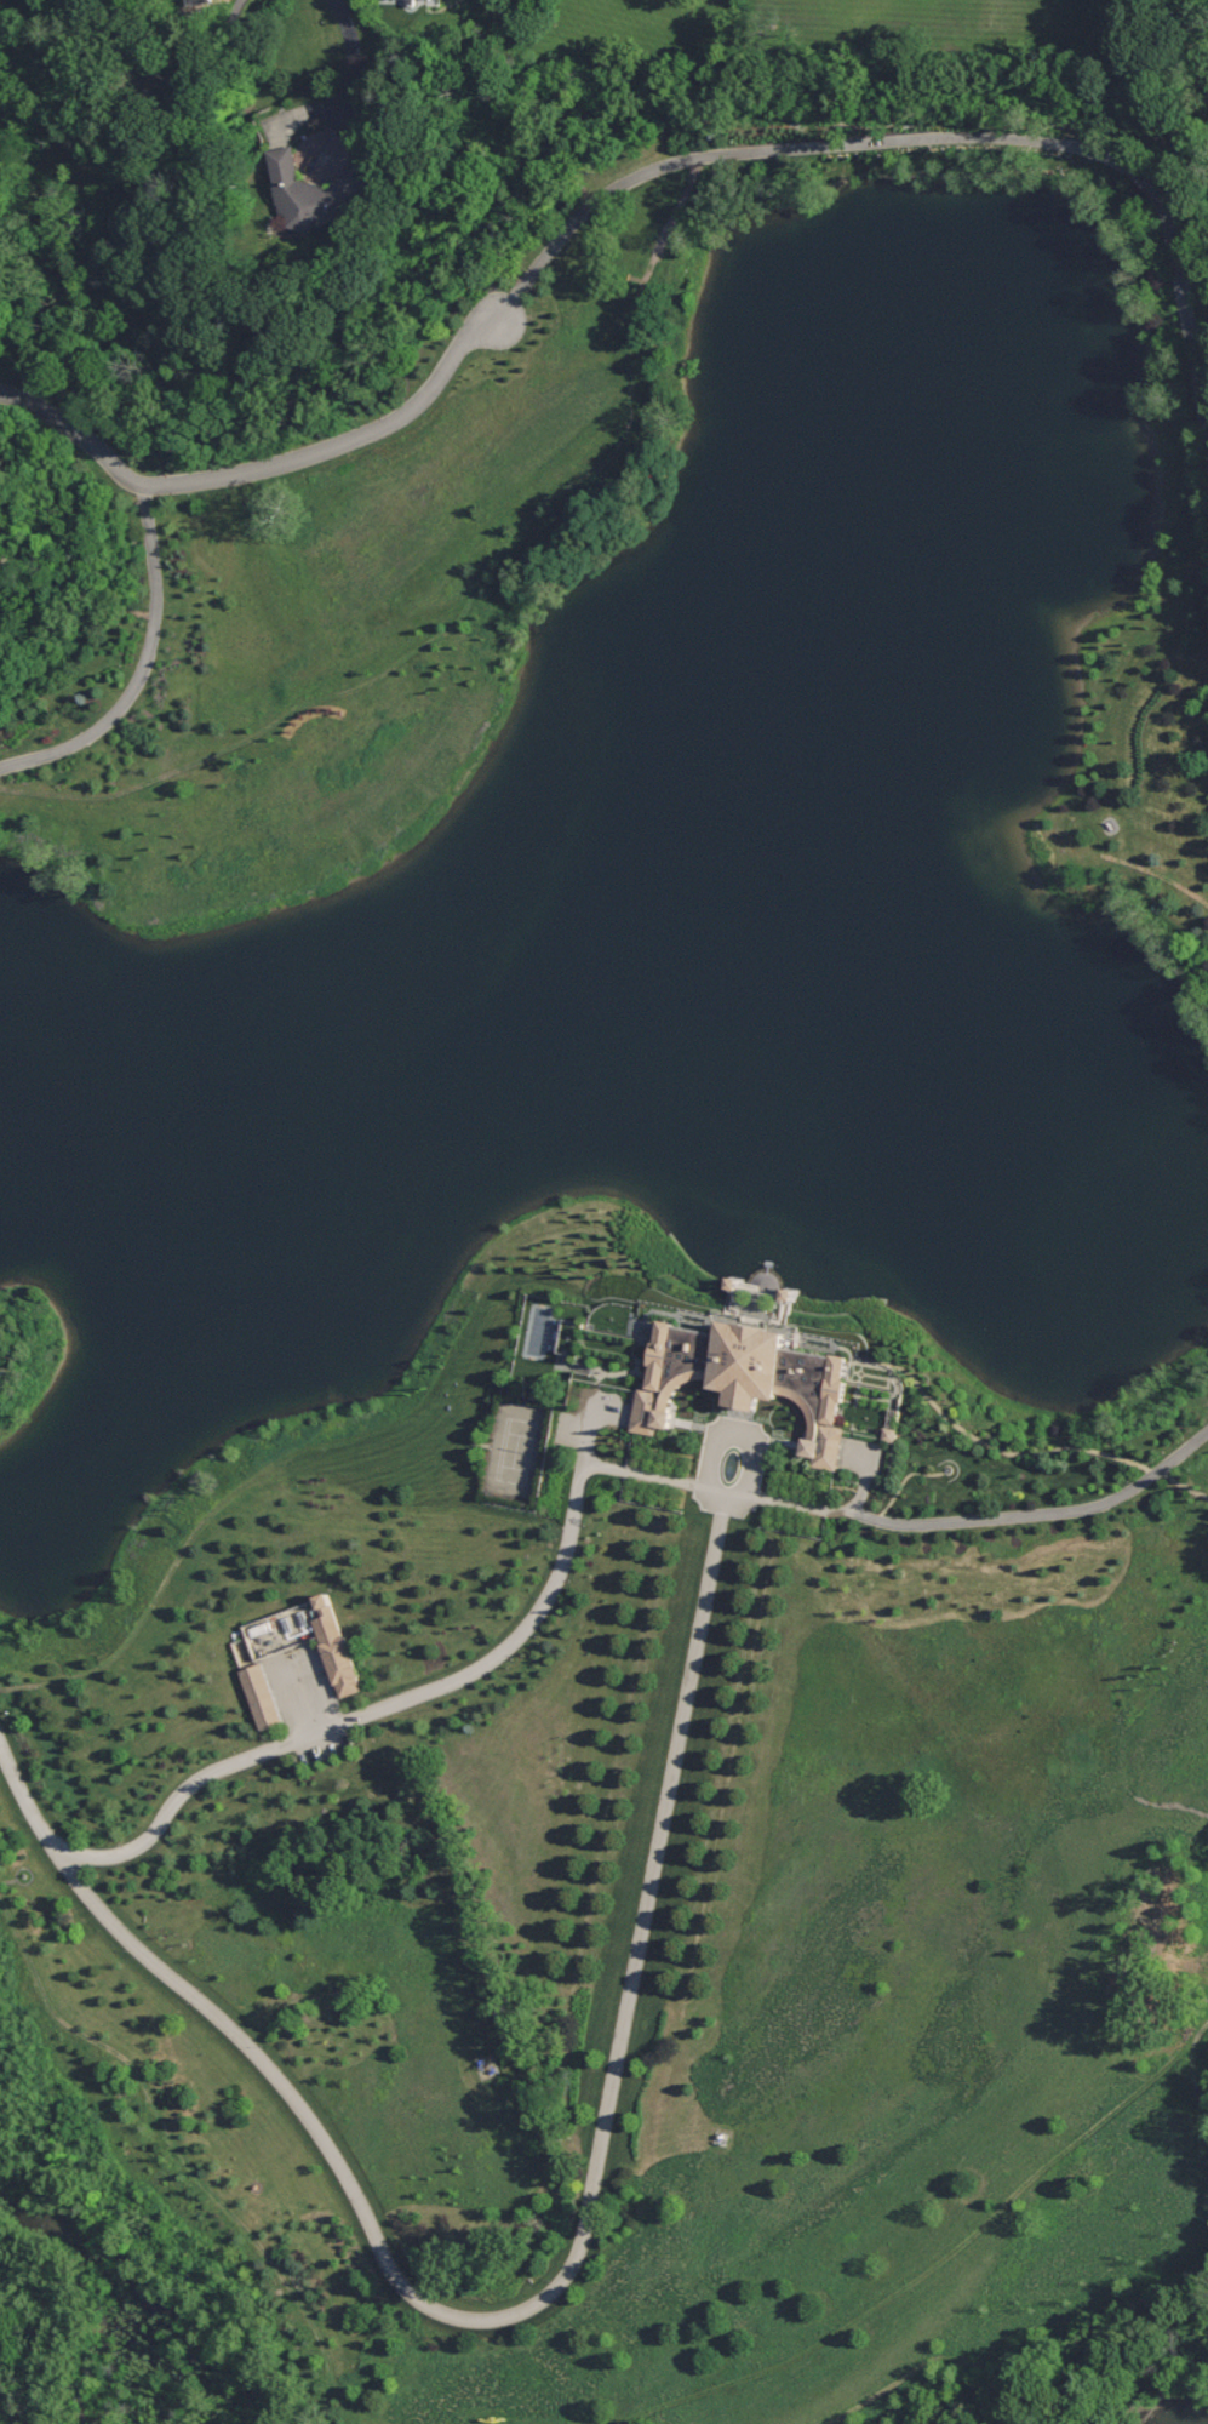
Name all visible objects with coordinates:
building: (411, 2)
road: (219, 48)
road: (350, 61)
building: (158, 88)
road: (632, 181)
building: (311, 191)
road: (149, 674)
building: (750, 1378)
road: (740, 1433)
building: (338, 1651)
building: (242, 1654)
road: (442, 1688)
road: (308, 1696)
building: (263, 1699)
road: (68, 1847)
road: (620, 2074)

